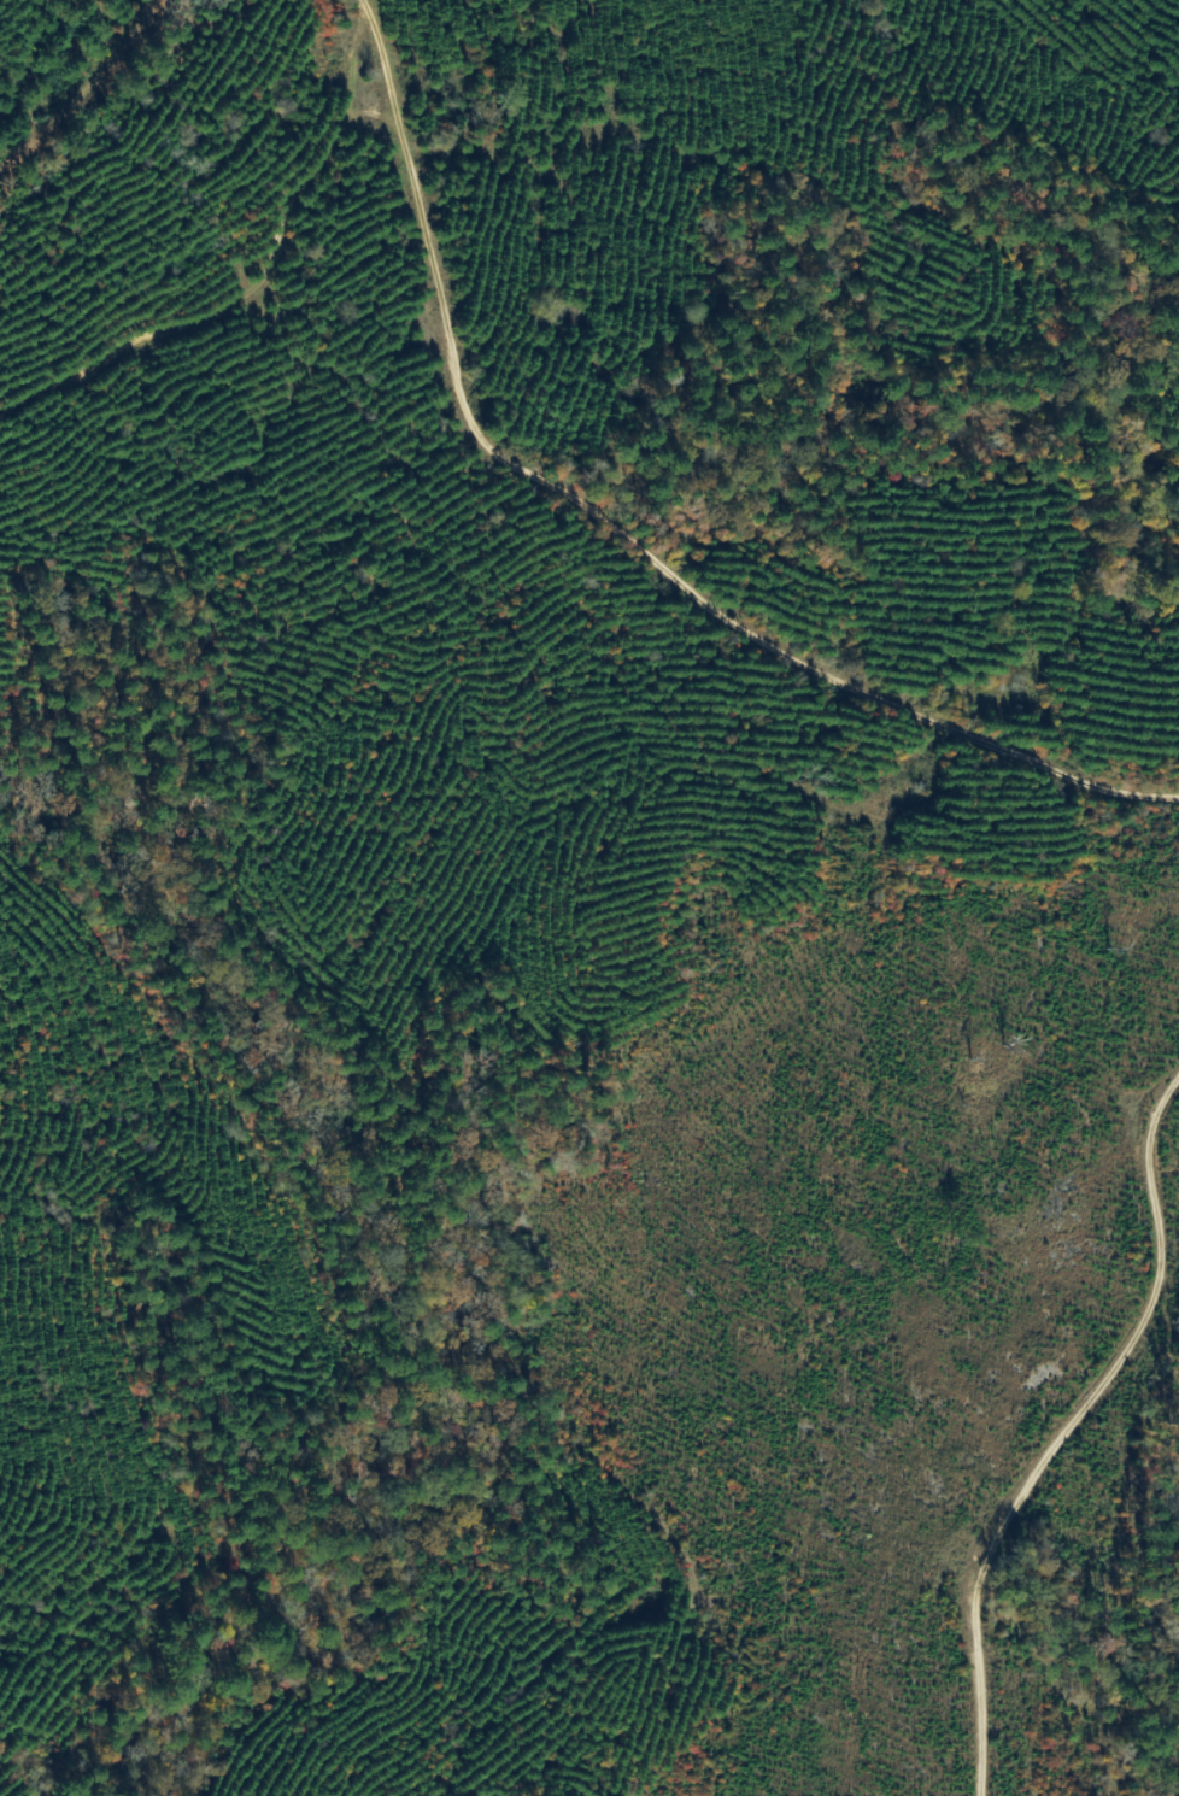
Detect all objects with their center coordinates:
road: (84, 90)
road: (250, 289)
road: (610, 521)
road: (1056, 1443)

